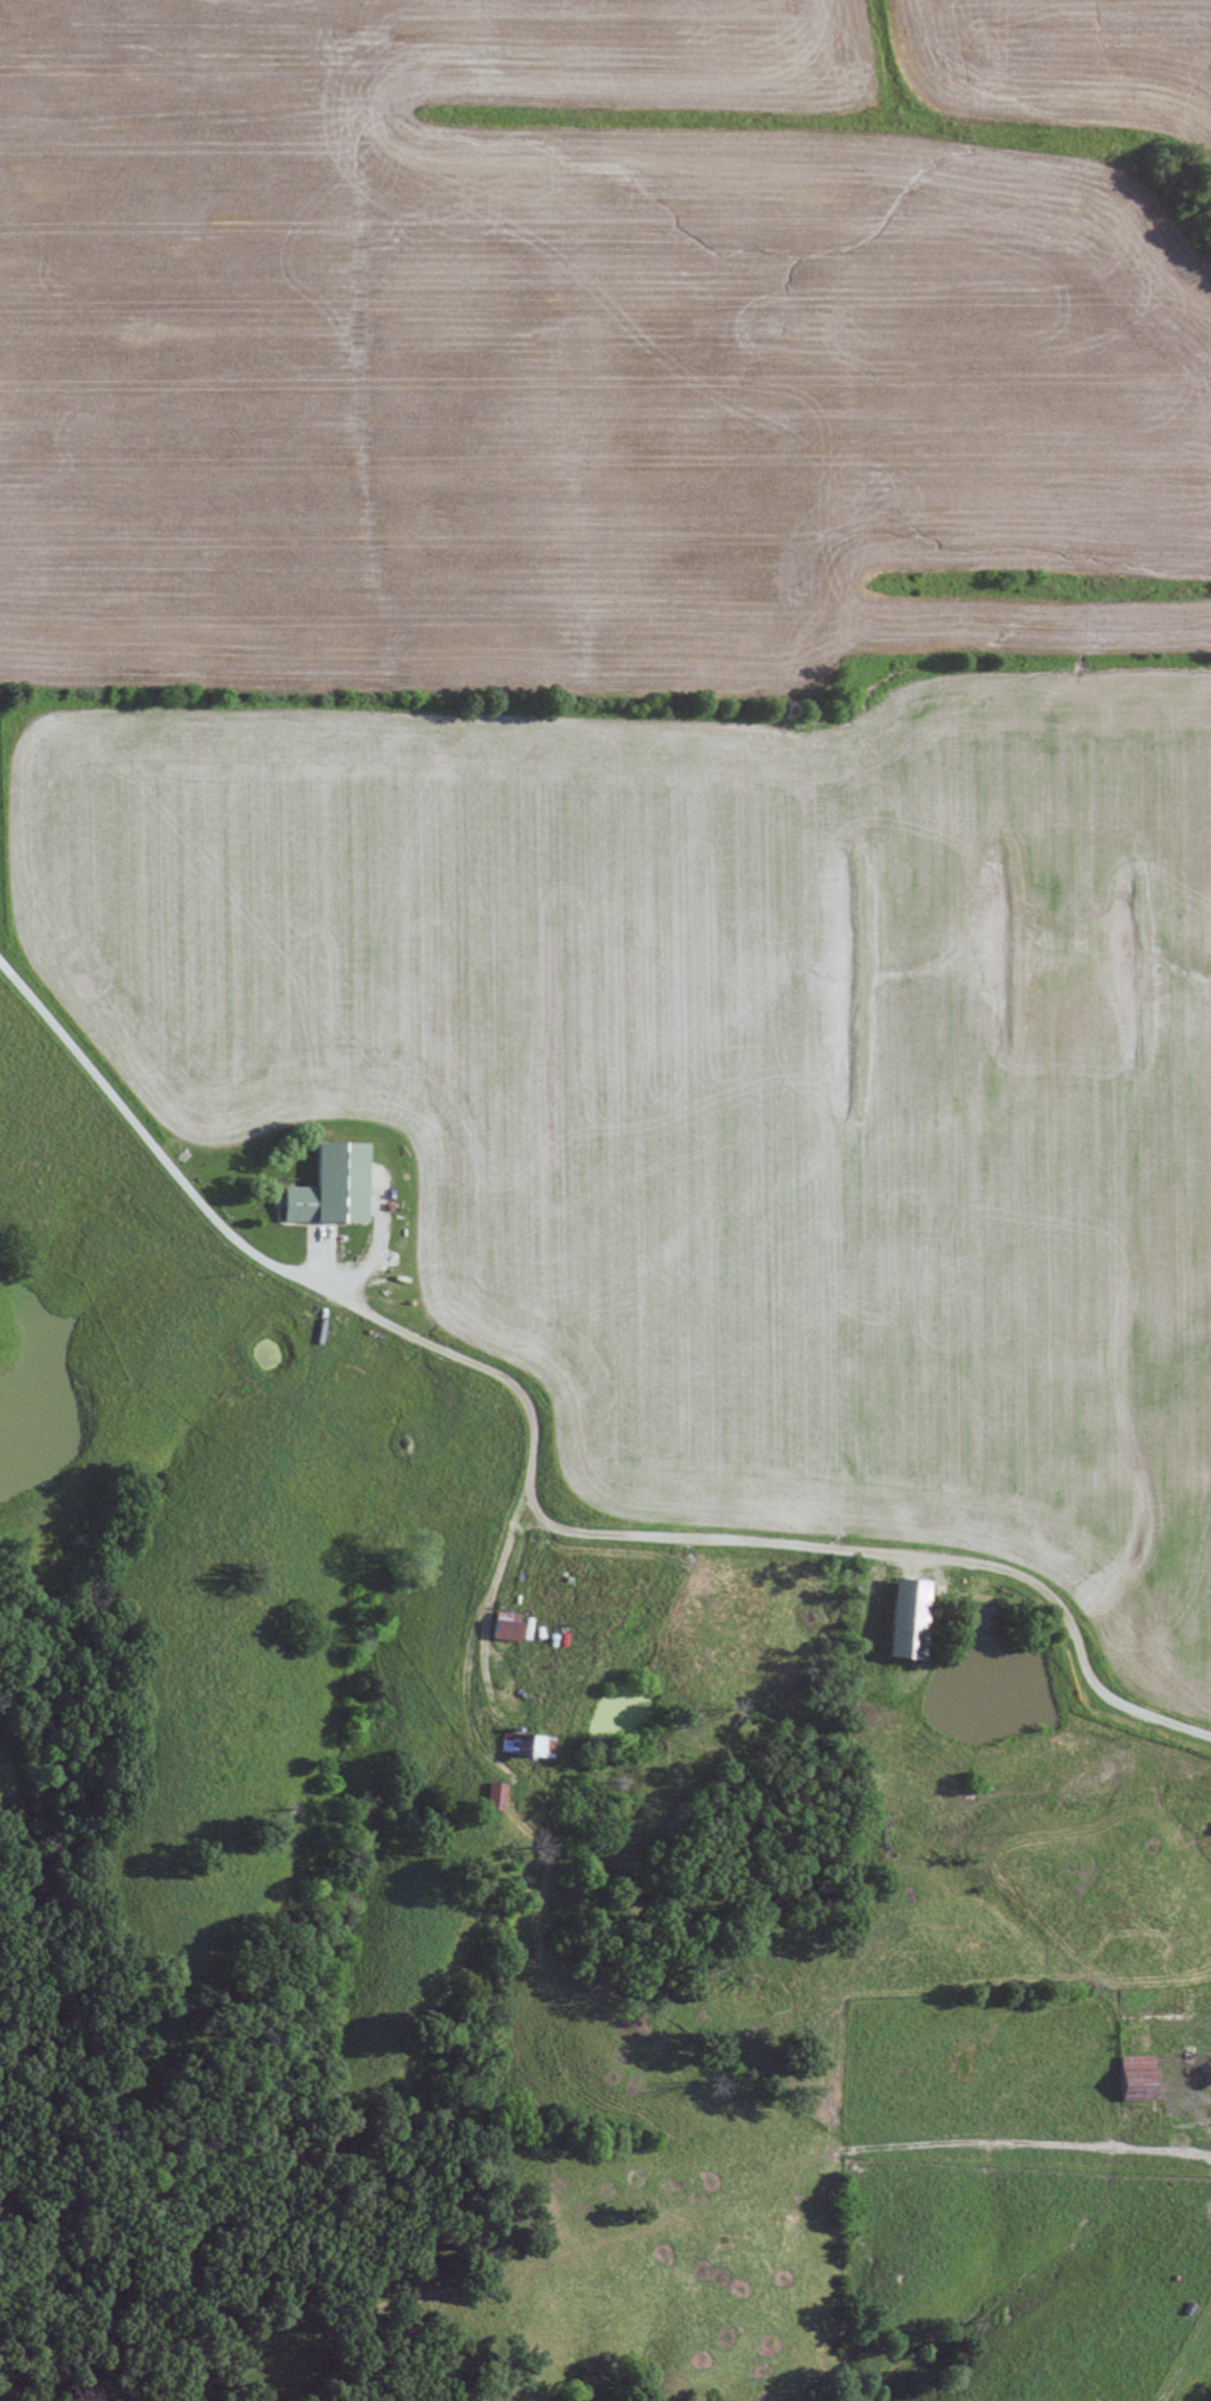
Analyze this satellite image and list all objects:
building: (327, 1184)
road: (391, 1326)
building: (905, 1617)
building: (506, 1624)
building: (536, 1745)
building: (493, 1794)
road: (1205, 2126)

